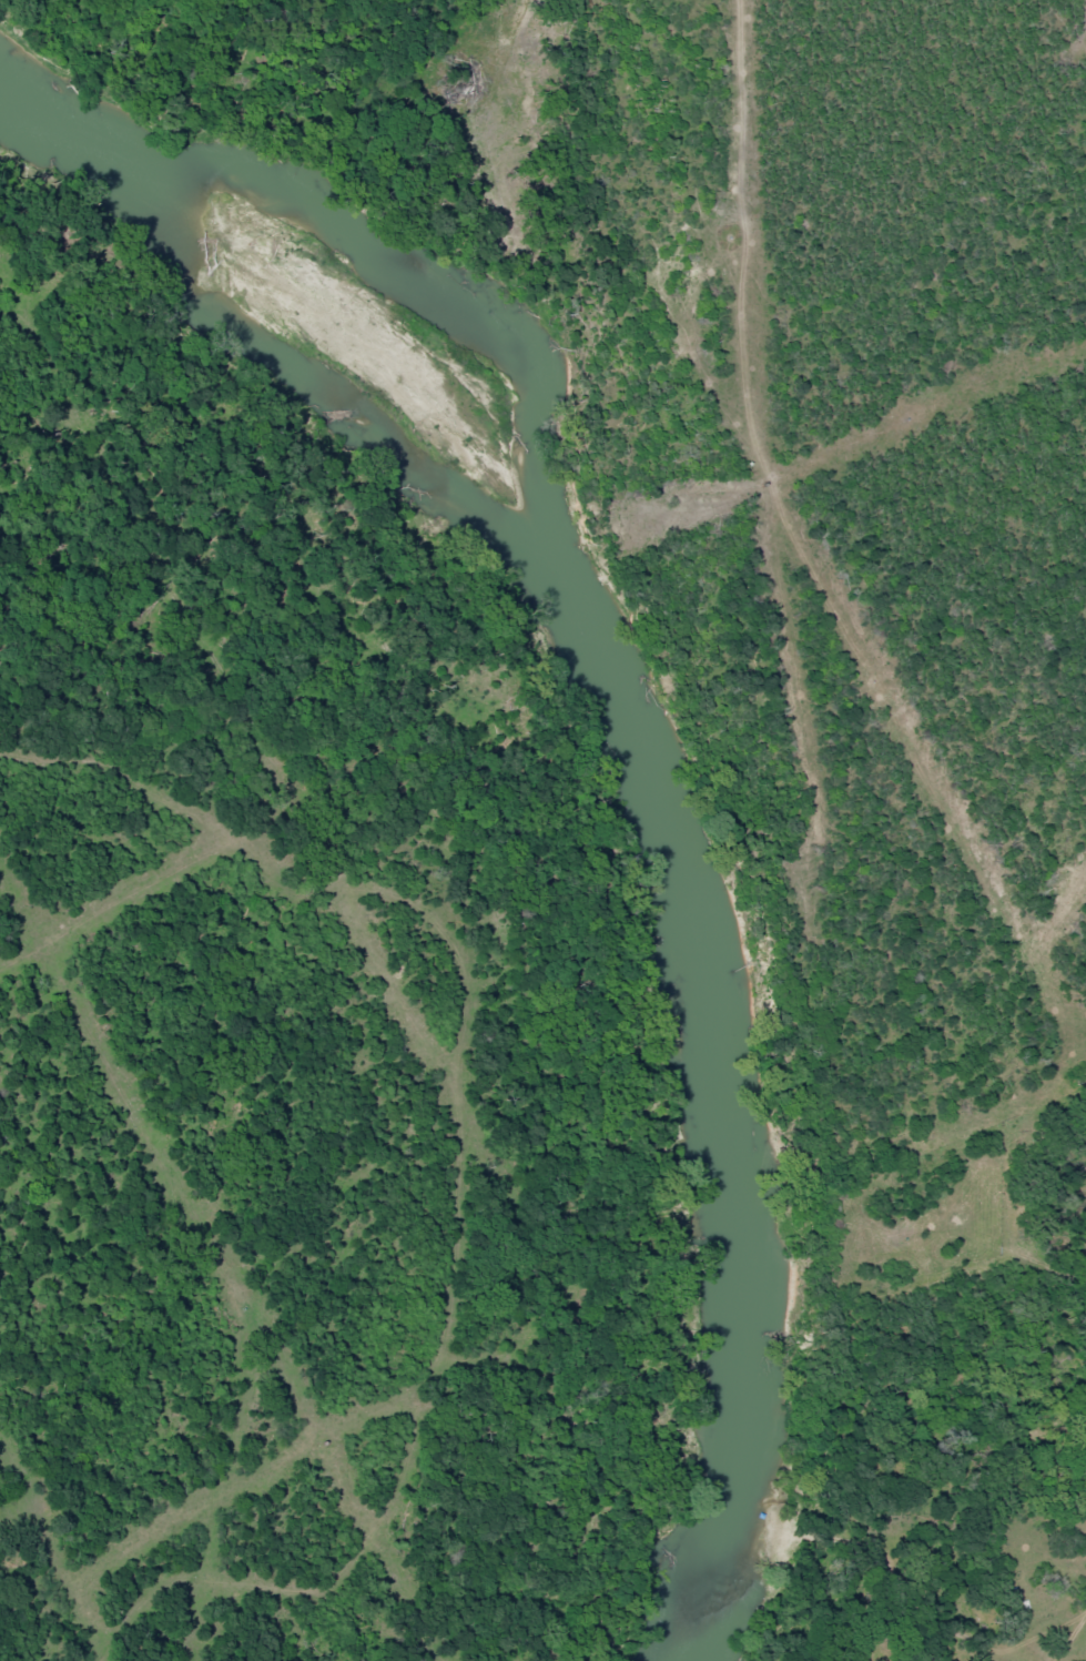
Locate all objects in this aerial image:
river: (626, 796)
road: (1047, 1633)

